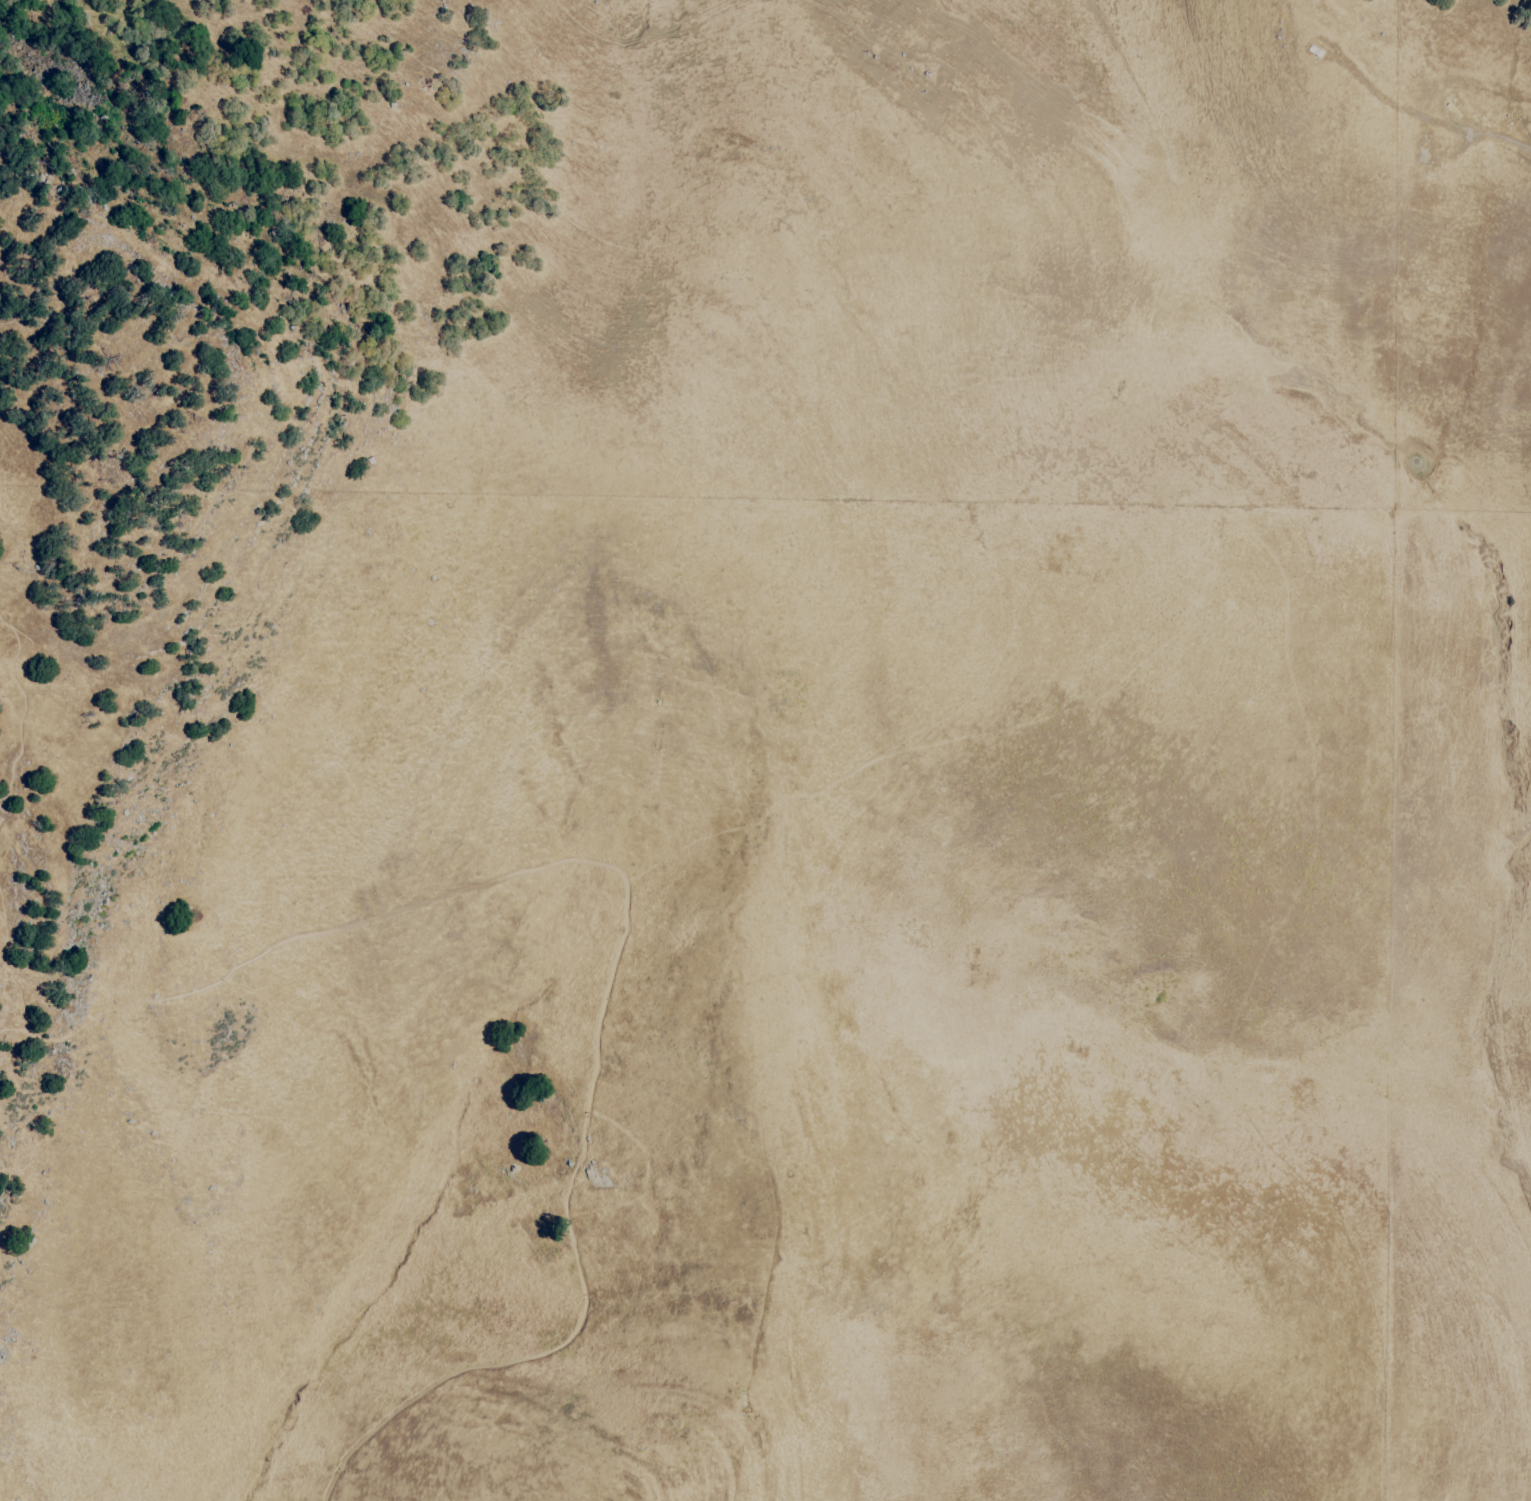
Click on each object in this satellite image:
road: (623, 937)

